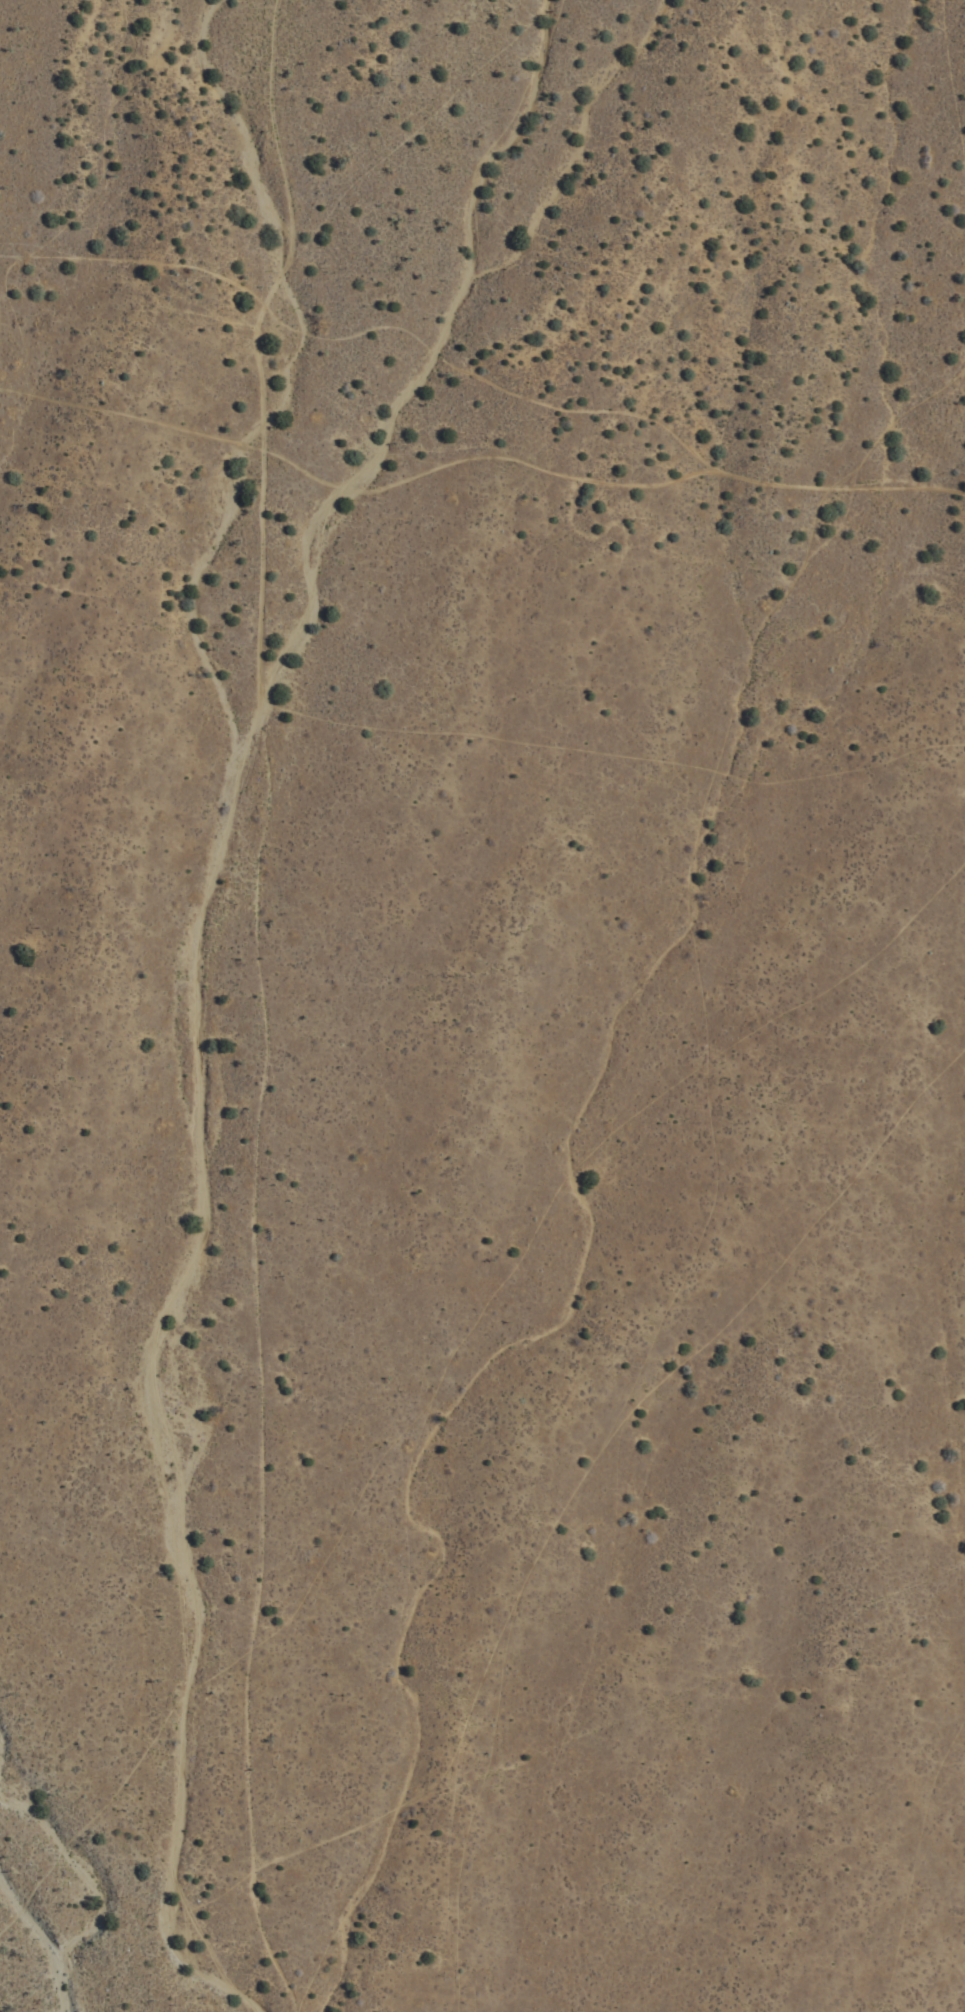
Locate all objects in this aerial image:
road: (613, 1736)

